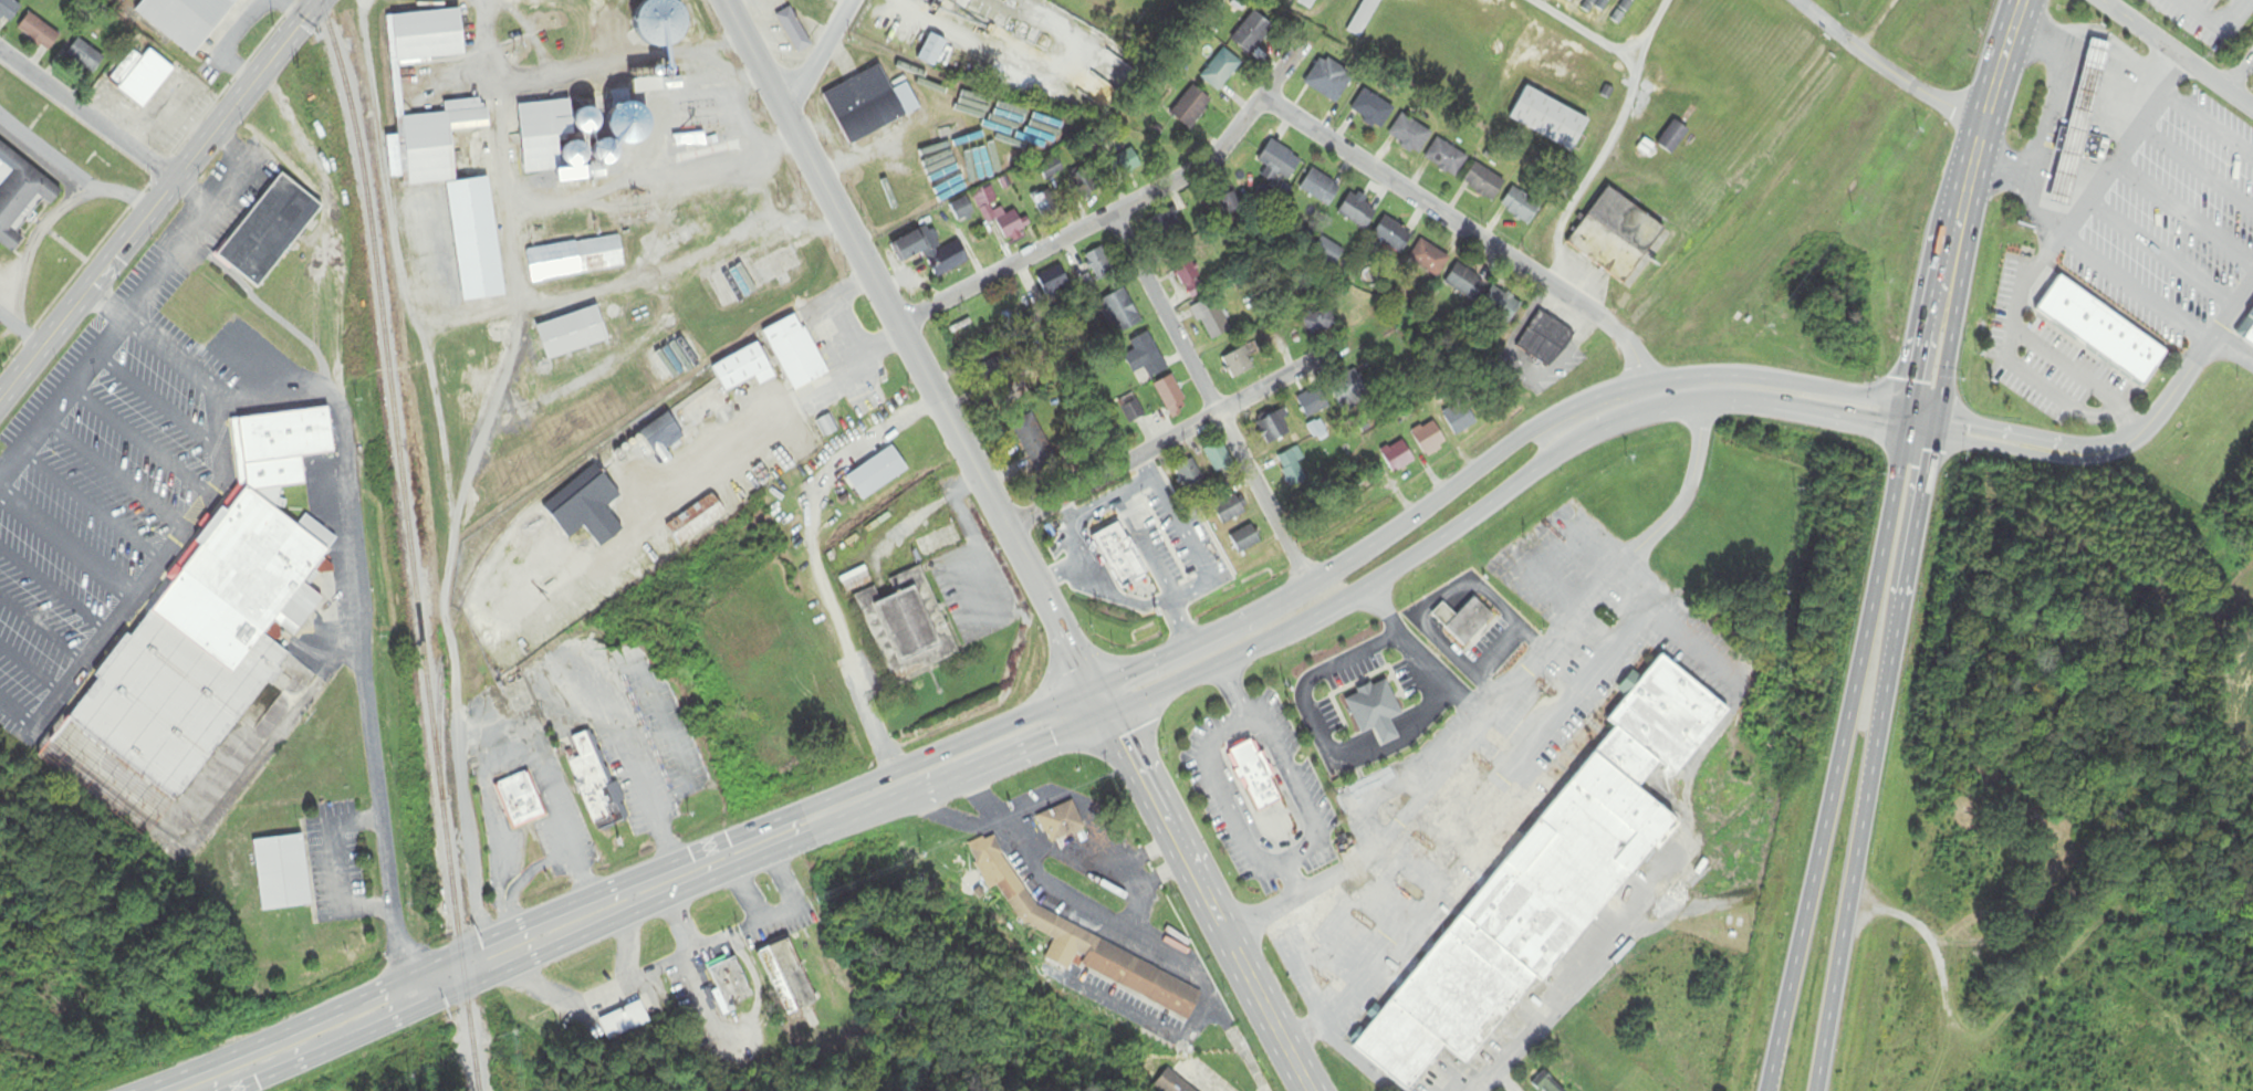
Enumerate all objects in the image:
building: (928, 0)
building: (1571, 1)
road: (2103, 1)
building: (1308, 3)
road: (2017, 4)
building: (1598, 6)
building: (8, 11)
building: (1624, 11)
building: (1364, 17)
building: (186, 20)
building: (656, 20)
silo: (656, 20)
road: (1822, 22)
building: (790, 27)
building: (423, 31)
building: (39, 32)
building: (1253, 32)
road: (482, 41)
building: (927, 48)
road: (2174, 54)
road: (817, 55)
building: (85, 56)
road: (2251, 59)
building: (1221, 70)
road: (556, 72)
road: (2240, 72)
building: (142, 75)
building: (1328, 80)
road: (1992, 83)
road: (1911, 86)
building: (859, 103)
building: (1191, 107)
building: (1371, 109)
building: (541, 116)
building: (675, 116)
building: (582, 118)
silo: (582, 118)
building: (1551, 118)
building: (2077, 119)
road: (88, 122)
road: (2046, 122)
road: (2208, 127)
building: (1409, 134)
building: (1673, 138)
building: (431, 139)
building: (2076, 140)
road: (231, 148)
building: (599, 149)
silo: (599, 149)
building: (535, 150)
building: (567, 150)
silo: (567, 150)
building: (1446, 157)
building: (1280, 162)
road: (2114, 162)
building: (1124, 167)
building: (945, 168)
building: (1051, 170)
road: (2195, 170)
road: (1963, 172)
road: (70, 179)
building: (1484, 182)
building: (1322, 188)
road: (609, 190)
building: (19, 196)
road: (160, 203)
building: (1232, 203)
building: (1043, 204)
building: (1521, 206)
road: (2047, 207)
road: (1120, 209)
building: (962, 210)
building: (1358, 211)
road: (2183, 213)
building: (1005, 221)
building: (1628, 222)
building: (1165, 225)
building: (263, 228)
building: (1393, 234)
road: (1477, 237)
building: (469, 239)
road: (29, 242)
building: (930, 251)
building: (1328, 251)
building: (572, 255)
road: (2160, 255)
building: (1430, 258)
building: (1098, 264)
road: (630, 279)
building: (1190, 279)
building: (462, 280)
building: (1054, 282)
building: (1466, 283)
road: (2135, 291)
road: (1923, 295)
road: (1953, 301)
road: (106, 305)
road: (268, 312)
building: (1120, 313)
road: (2231, 315)
road: (124, 317)
building: (1212, 319)
building: (1320, 323)
building: (2099, 328)
building: (567, 331)
road: (21, 332)
building: (2249, 334)
building: (1545, 340)
road: (909, 342)
building: (790, 350)
building: (1146, 357)
road: (178, 361)
building: (737, 365)
building: (1238, 365)
road: (2016, 366)
road: (2066, 367)
road: (1654, 382)
road: (2176, 387)
building: (1171, 398)
road: (1210, 399)
road: (156, 402)
building: (1316, 402)
road: (1682, 406)
traffic signals: (1905, 407)
building: (1131, 412)
traffic signals: (1932, 413)
road: (1822, 417)
building: (1460, 419)
road: (2131, 421)
road: (1613, 422)
building: (1275, 429)
traffic signals: (1900, 430)
building: (657, 432)
road: (1177, 432)
traffic signals: (1928, 436)
road: (2136, 436)
road: (2030, 437)
road: (343, 438)
building: (1428, 438)
road: (139, 442)
building: (1033, 442)
road: (2028, 452)
building: (1219, 458)
building: (1398, 458)
parking lot: (106, 460)
building: (1293, 470)
building: (873, 471)
road: (1691, 474)
road: (114, 476)
building: (1190, 476)
road: (445, 478)
road: (1108, 500)
road: (90, 507)
building: (585, 510)
building: (1230, 511)
building: (690, 517)
road: (1182, 535)
building: (1245, 541)
railway: (492, 542)
railway: (408, 543)
road: (1145, 546)
road: (66, 548)
building: (933, 548)
road: (1083, 550)
building: (1113, 553)
road: (1339, 565)
road: (1061, 570)
road: (53, 591)
road: (1354, 591)
road: (1141, 605)
building: (1459, 619)
building: (903, 622)
road: (1177, 623)
road: (41, 631)
building: (202, 637)
road: (1181, 649)
road: (30, 670)
traffic signals: (1095, 684)
road: (1234, 692)
road: (1102, 697)
building: (1370, 707)
traffic signals: (1108, 712)
road: (17, 715)
road: (949, 748)
road: (1840, 749)
road: (1874, 752)
road: (1448, 756)
road: (999, 757)
building: (1250, 774)
building: (592, 781)
building: (515, 798)
road: (1155, 800)
road: (1487, 806)
road: (849, 811)
building: (1061, 824)
road: (1272, 861)
road: (335, 867)
building: (278, 871)
building: (1544, 880)
road: (1292, 901)
building: (1086, 943)
road: (499, 954)
road: (1563, 975)
building: (787, 976)
park: (2024, 978)
building: (731, 983)
road: (1254, 990)
building: (625, 1021)
road: (476, 1029)
building: (1169, 1084)
building: (1546, 1084)

